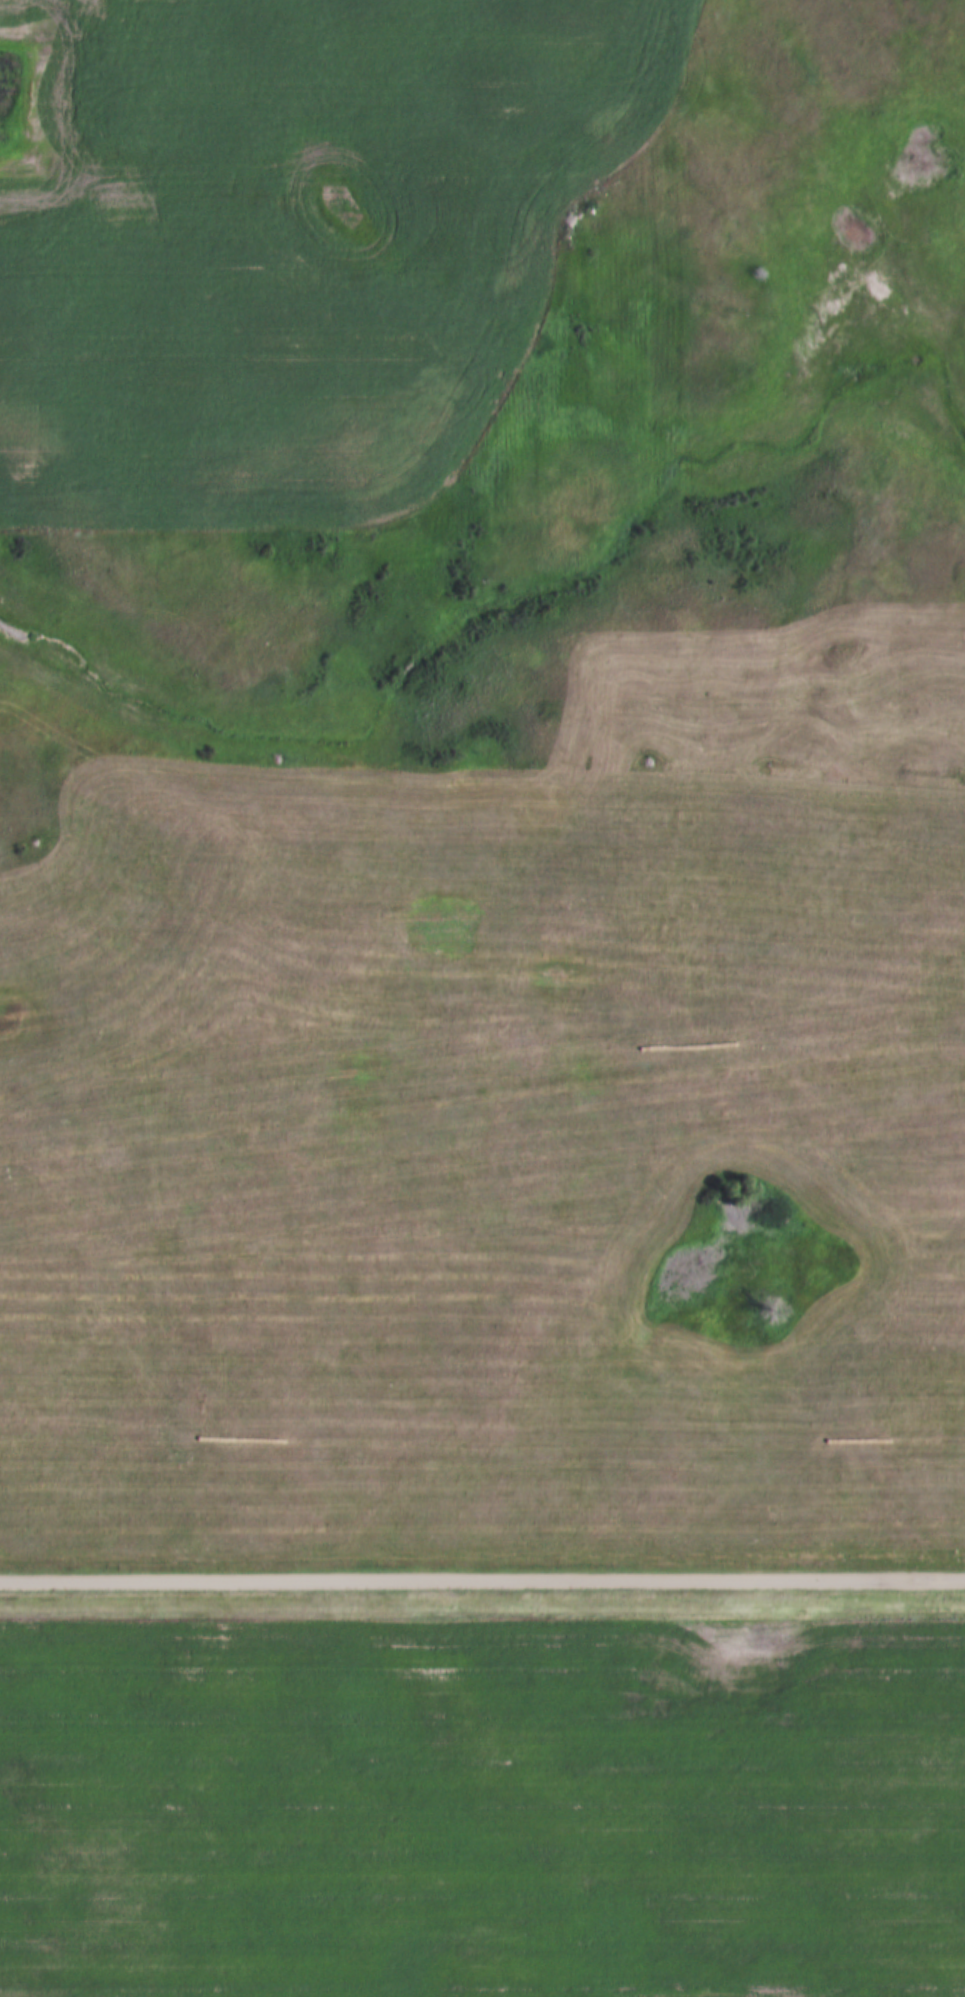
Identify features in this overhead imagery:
road: (482, 1579)

